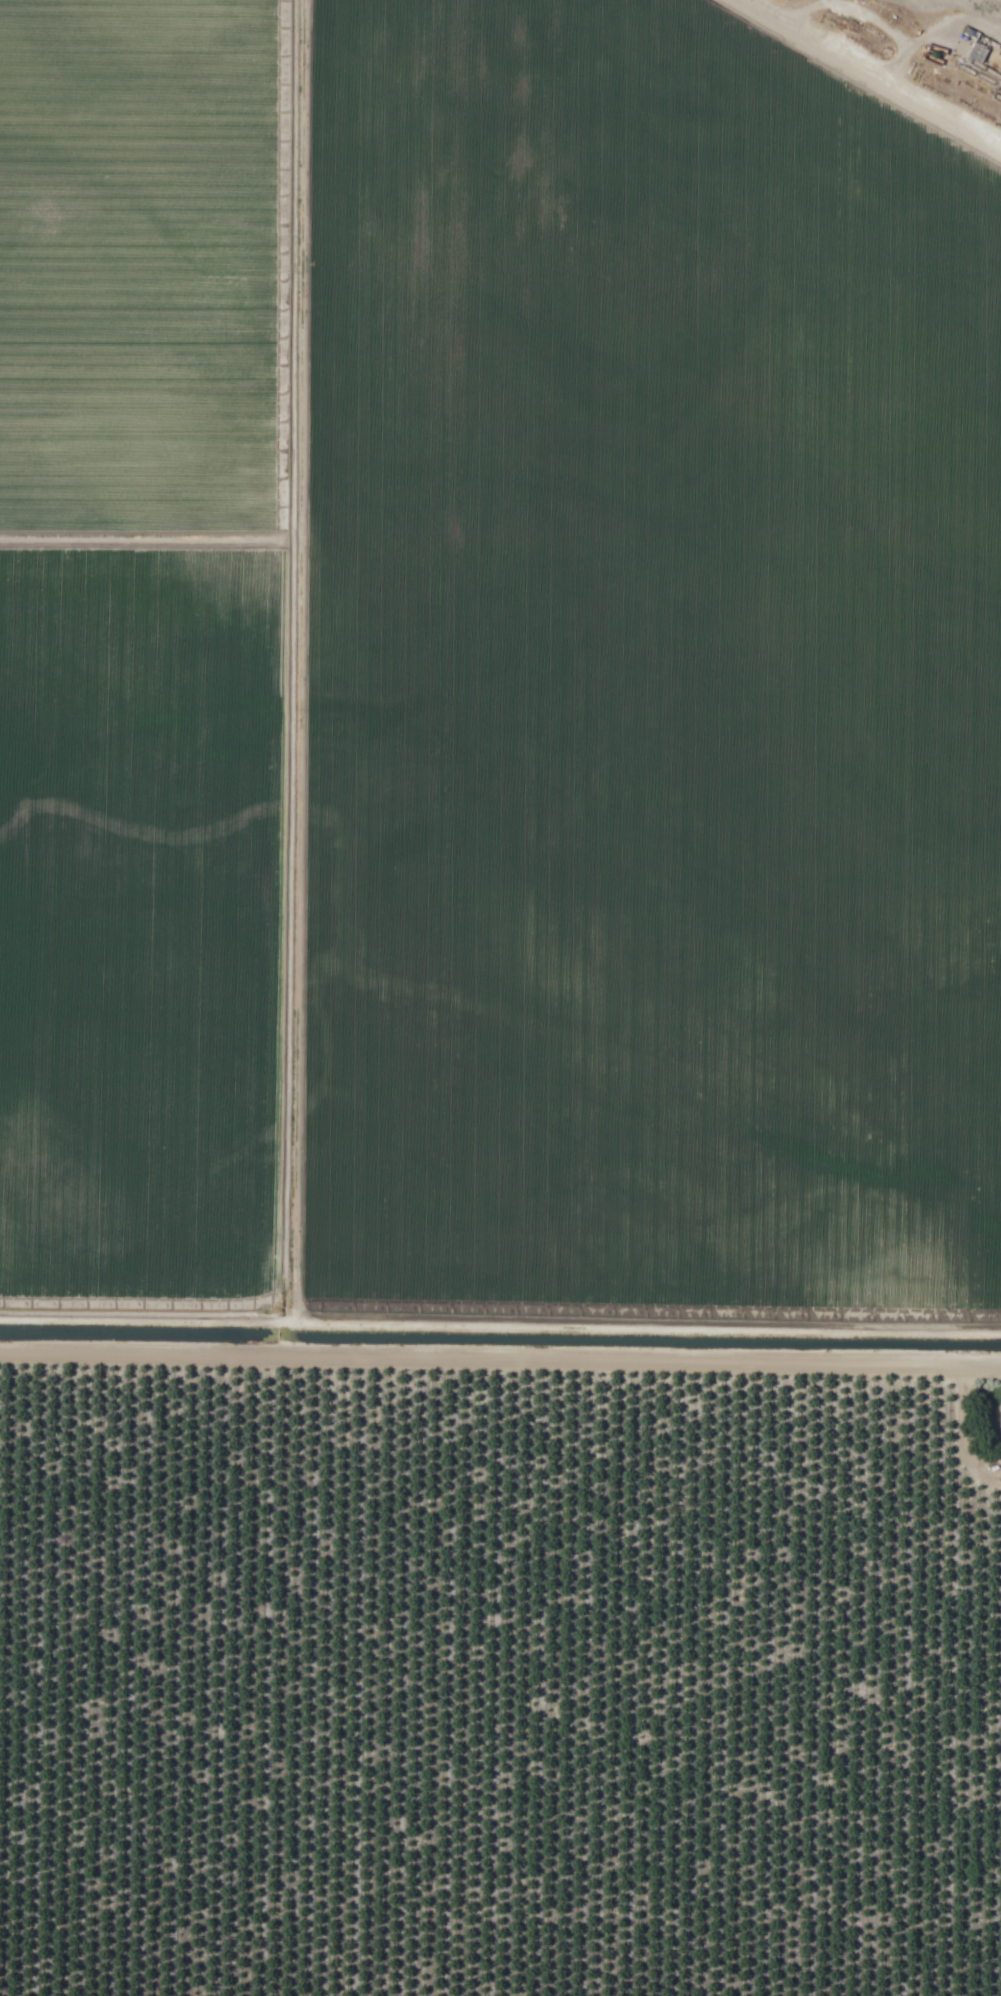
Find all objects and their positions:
crop: (32, 614)
crop: (527, 664)
road: (500, 1353)
crop: (497, 1685)

